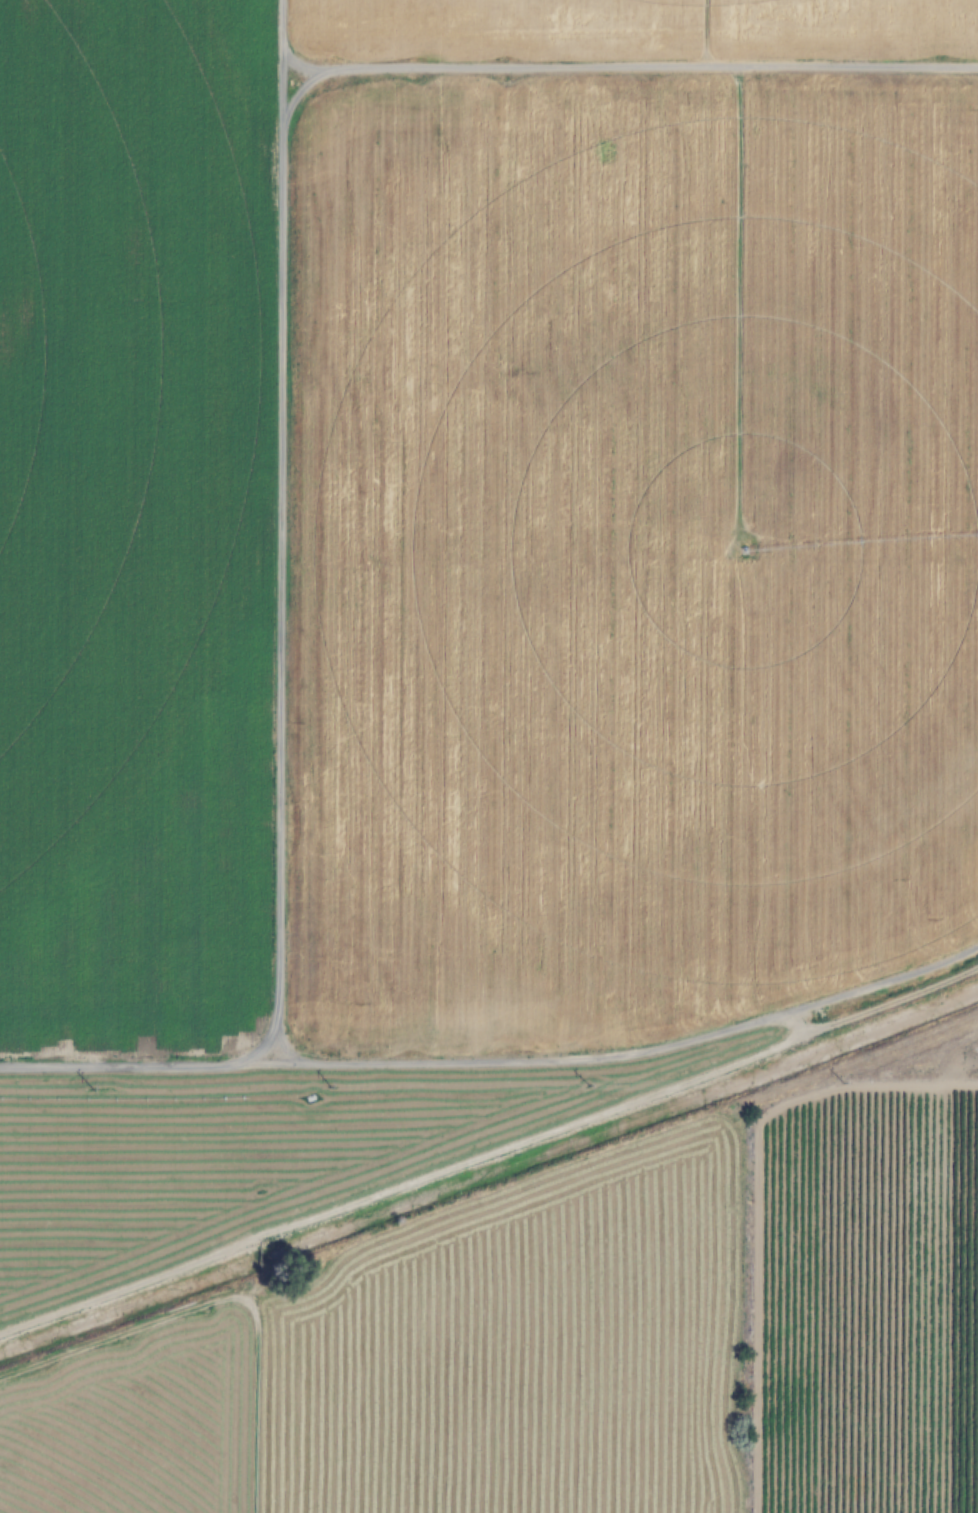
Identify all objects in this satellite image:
road: (131, 1064)
road: (489, 1140)

